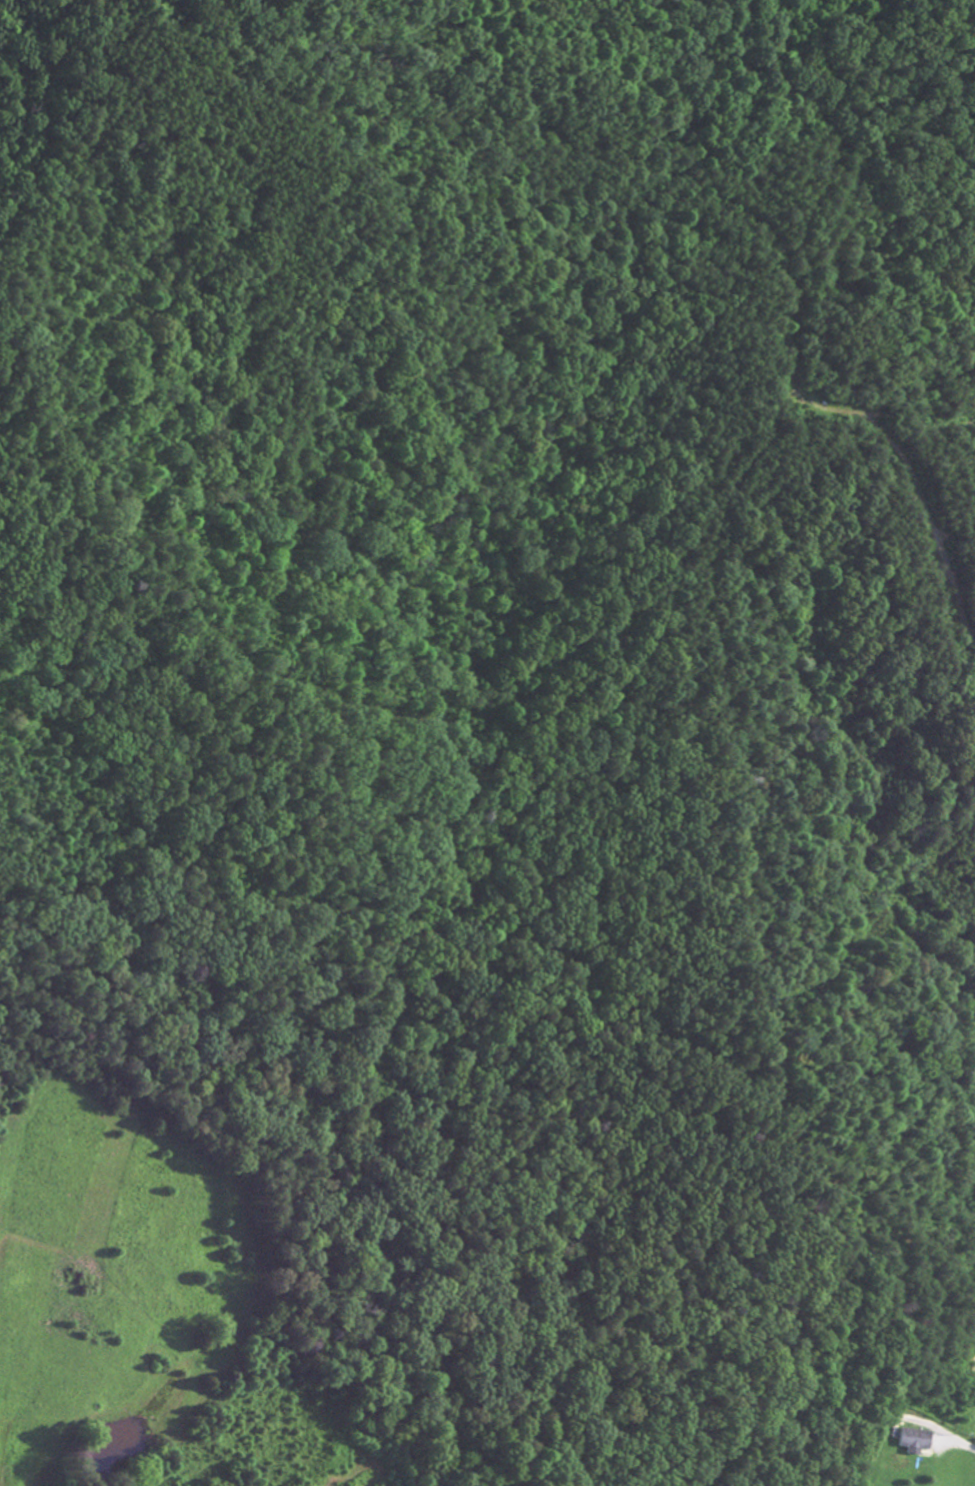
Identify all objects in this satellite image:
building: (909, 1442)

